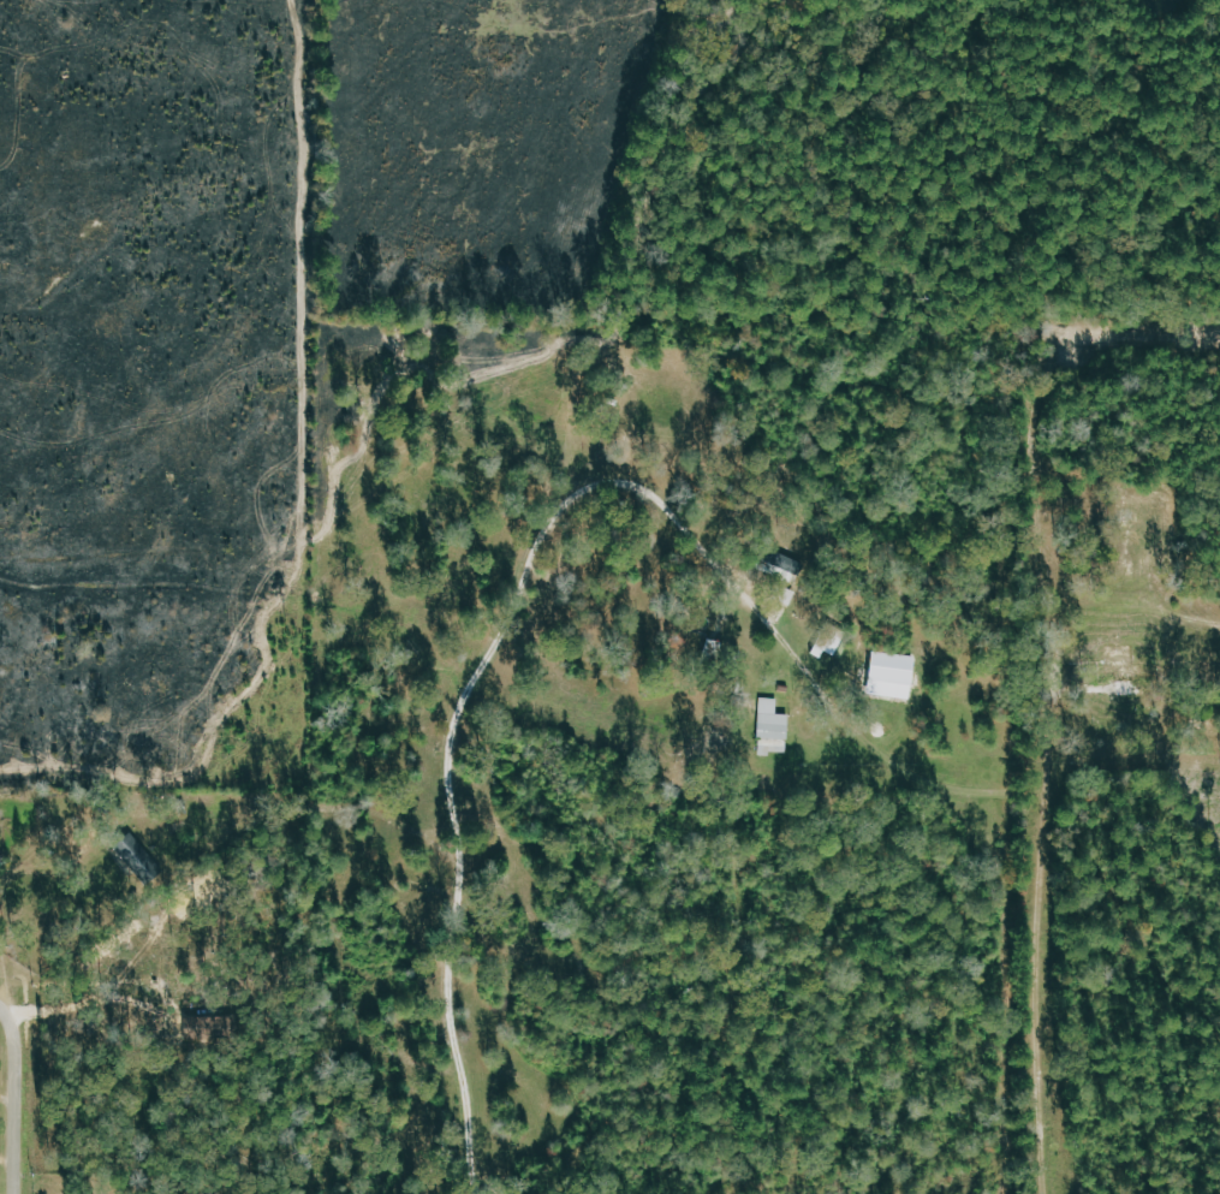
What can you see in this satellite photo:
building: (782, 565)
building: (828, 640)
building: (892, 676)
building: (770, 729)
road: (1042, 939)
road: (23, 1093)

